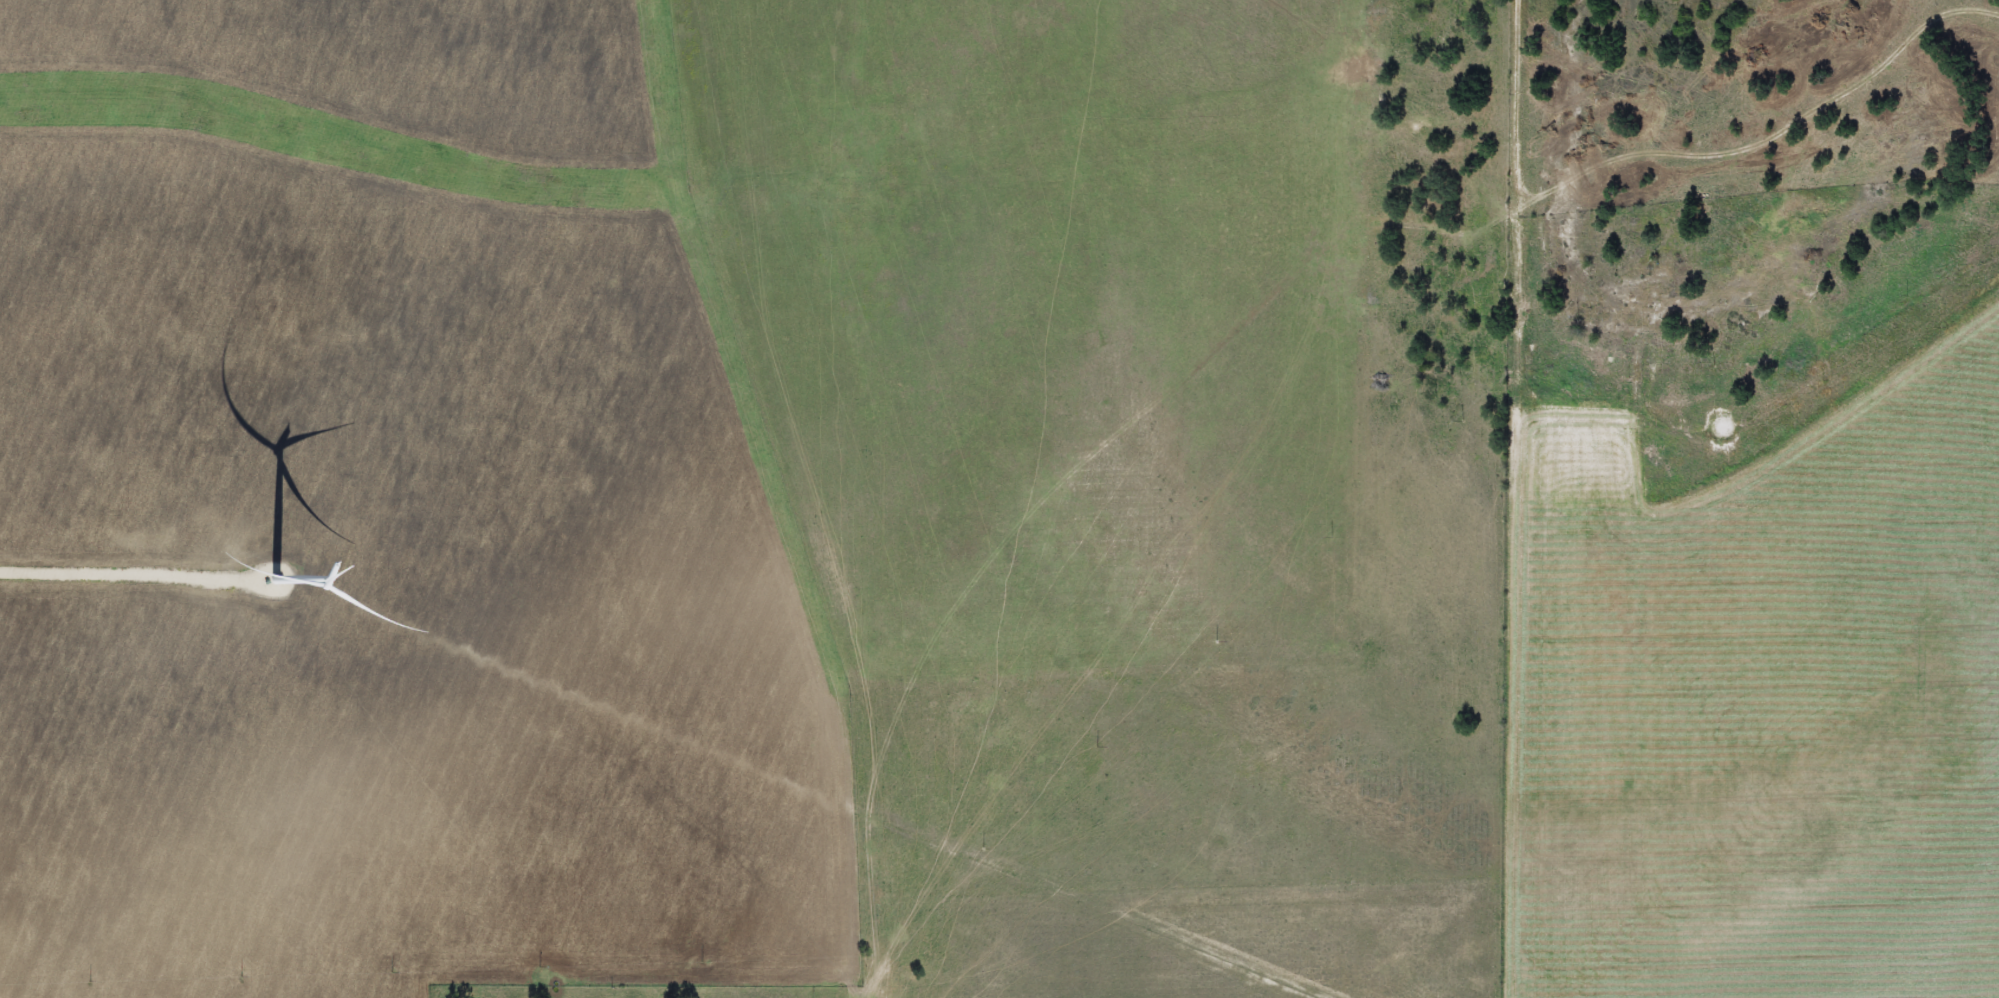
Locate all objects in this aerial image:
wind turbine: (277, 578)

